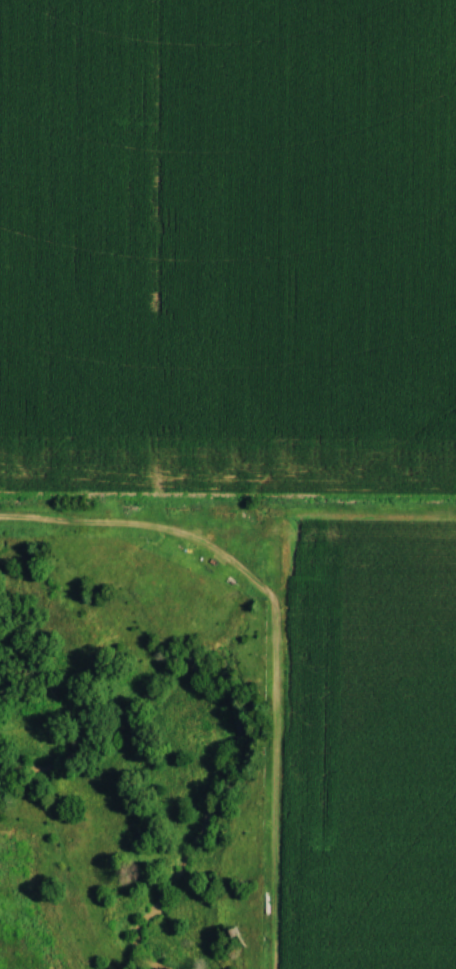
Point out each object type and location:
river: (227, 712)

